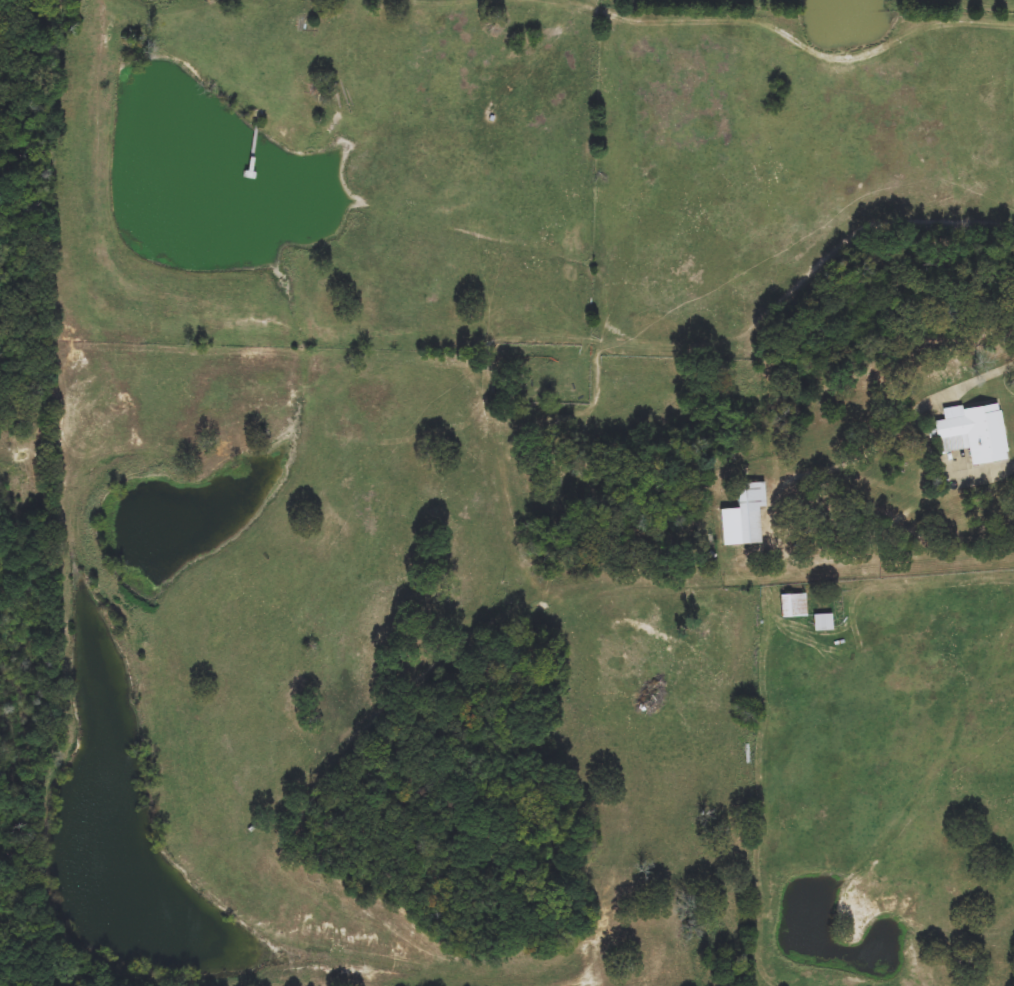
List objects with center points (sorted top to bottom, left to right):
road: (796, 37)
building: (973, 434)
building: (743, 517)
road: (892, 527)
building: (793, 606)
building: (822, 622)

